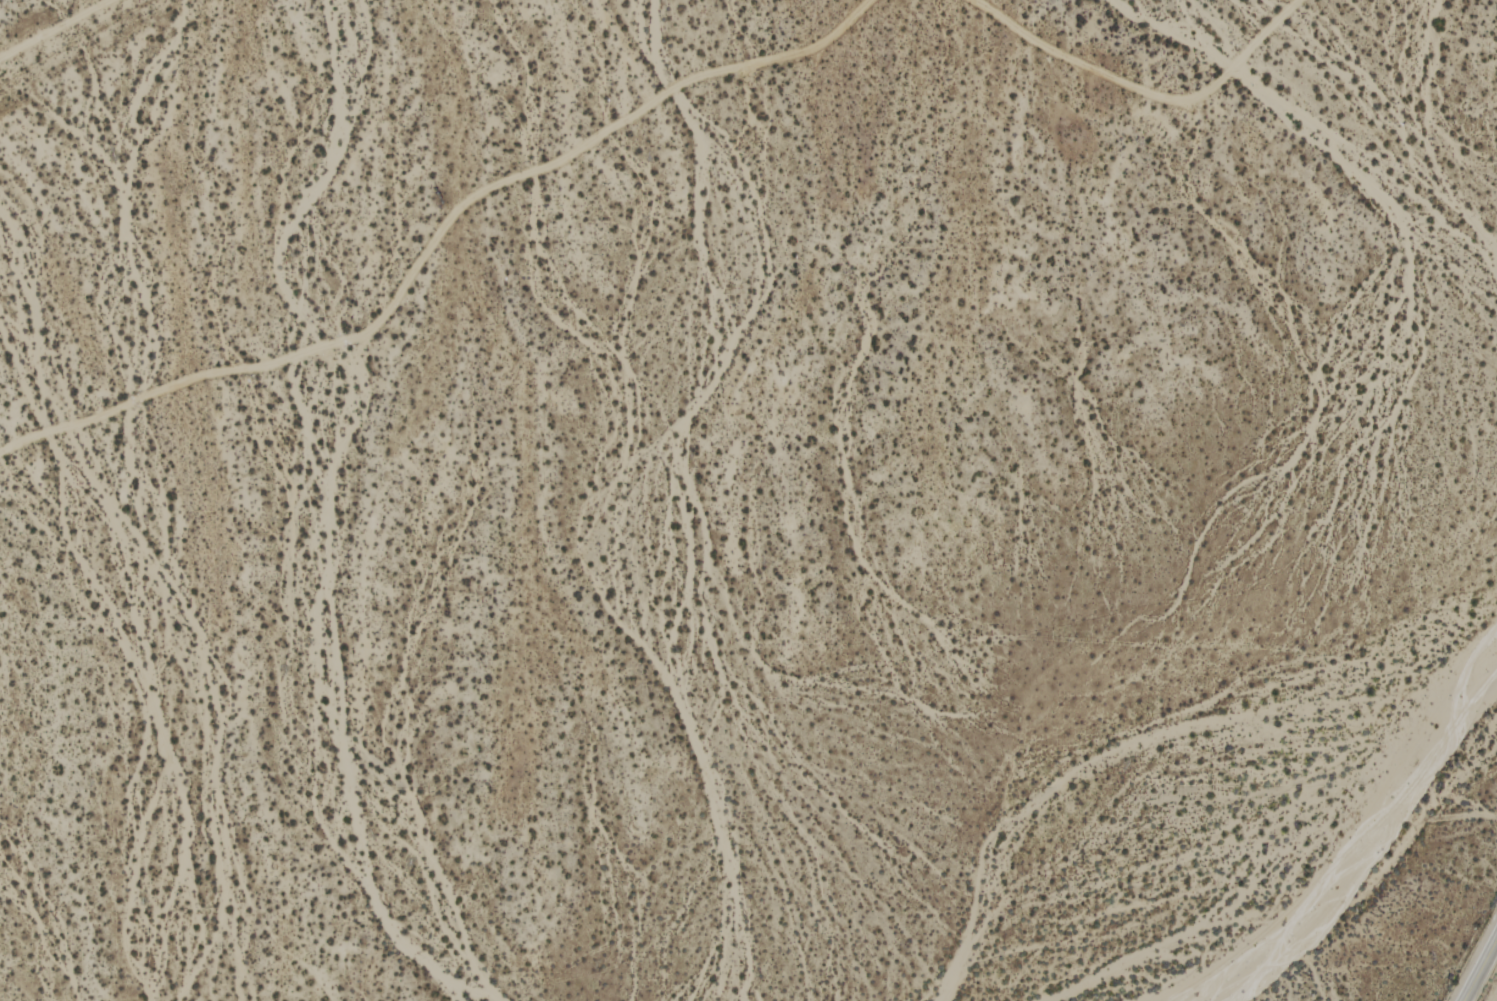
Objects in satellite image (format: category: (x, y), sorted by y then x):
power tower: (441, 197)
road: (1480, 969)

